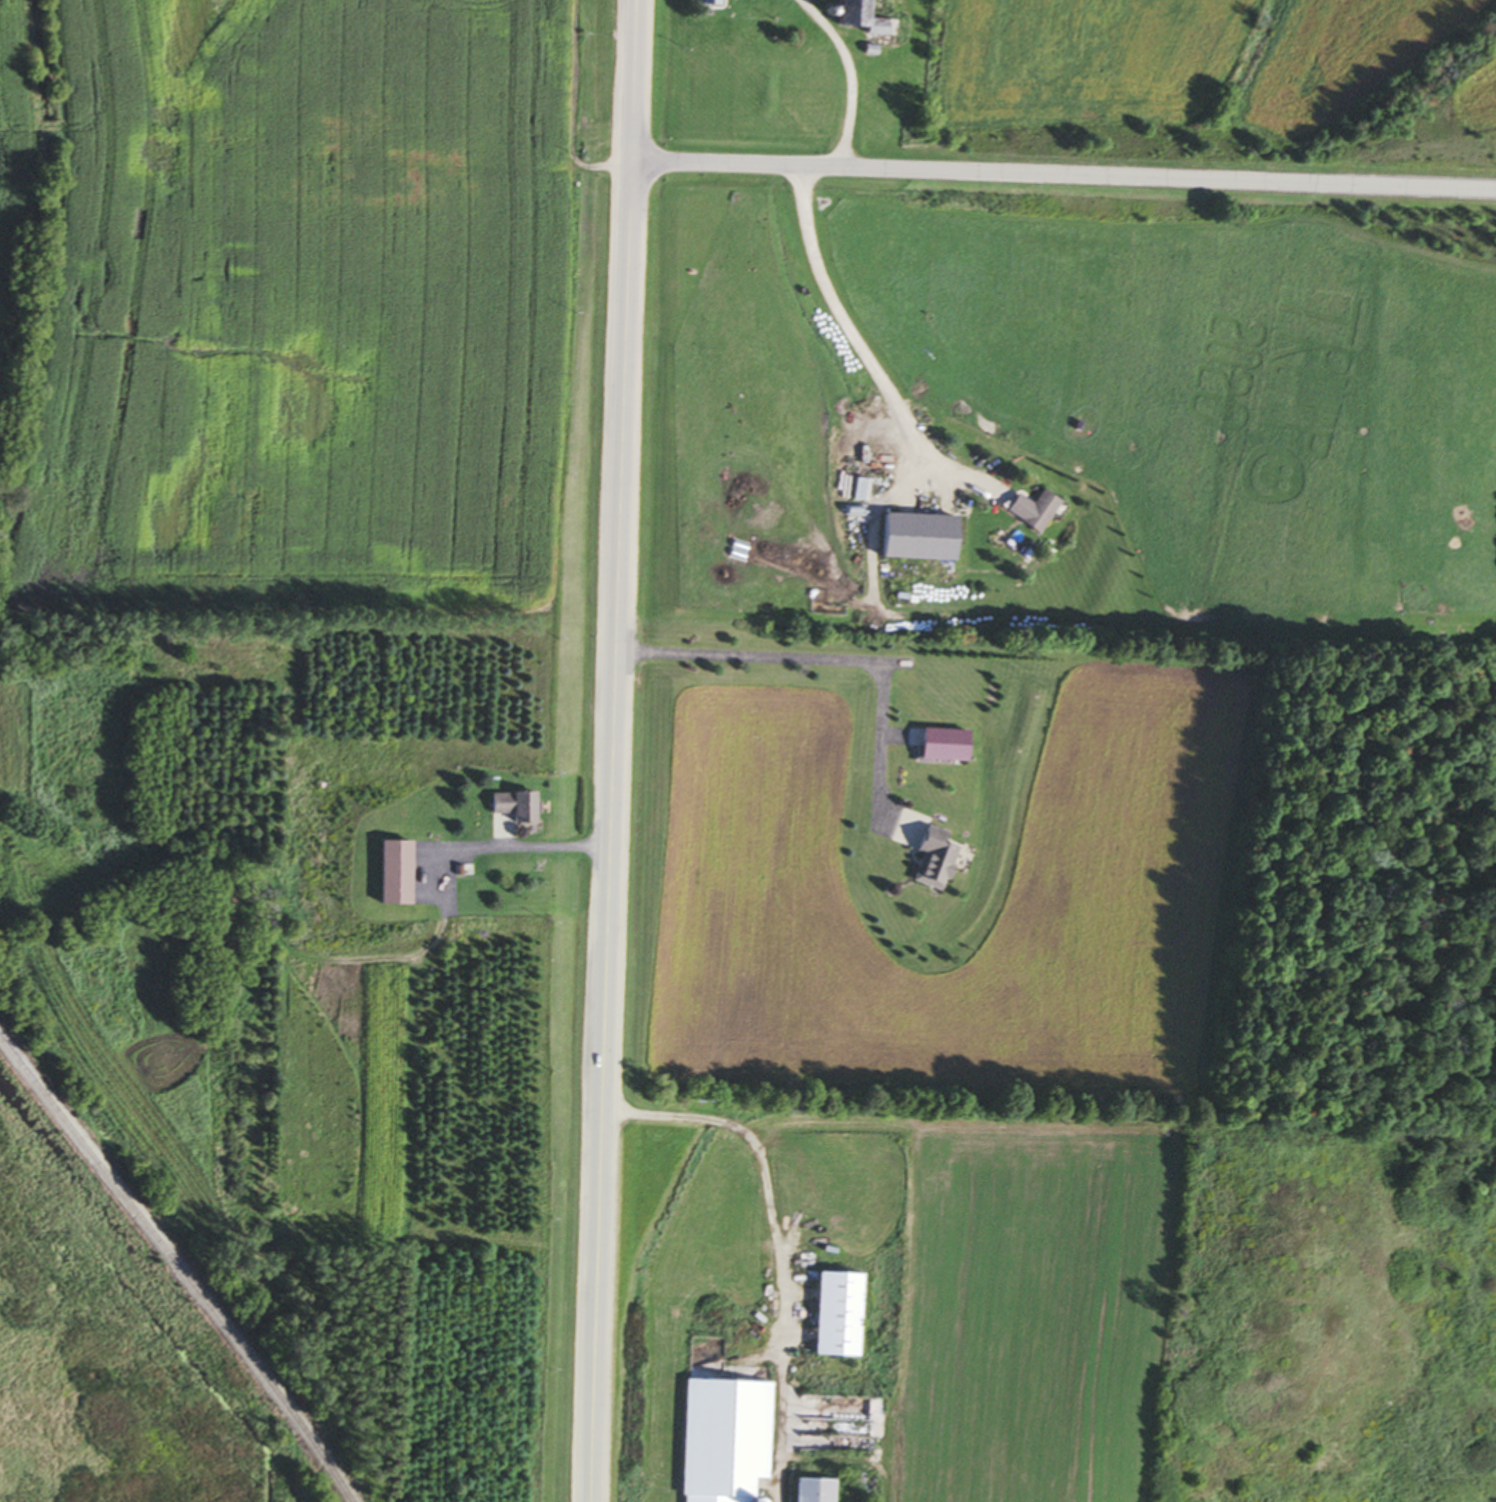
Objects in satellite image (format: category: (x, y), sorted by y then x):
building: (715, 3)
building: (871, 18)
road: (852, 77)
road: (1064, 175)
landfill: (305, 305)
road: (863, 353)
building: (1037, 510)
building: (924, 538)
road: (837, 661)
building: (949, 746)
road: (614, 750)
building: (518, 807)
road: (532, 848)
building: (938, 859)
building: (401, 873)
road: (776, 1241)
railway: (178, 1269)
building: (842, 1315)
landfill: (107, 1358)
building: (729, 1439)
building: (854, 1446)
building: (817, 1490)

